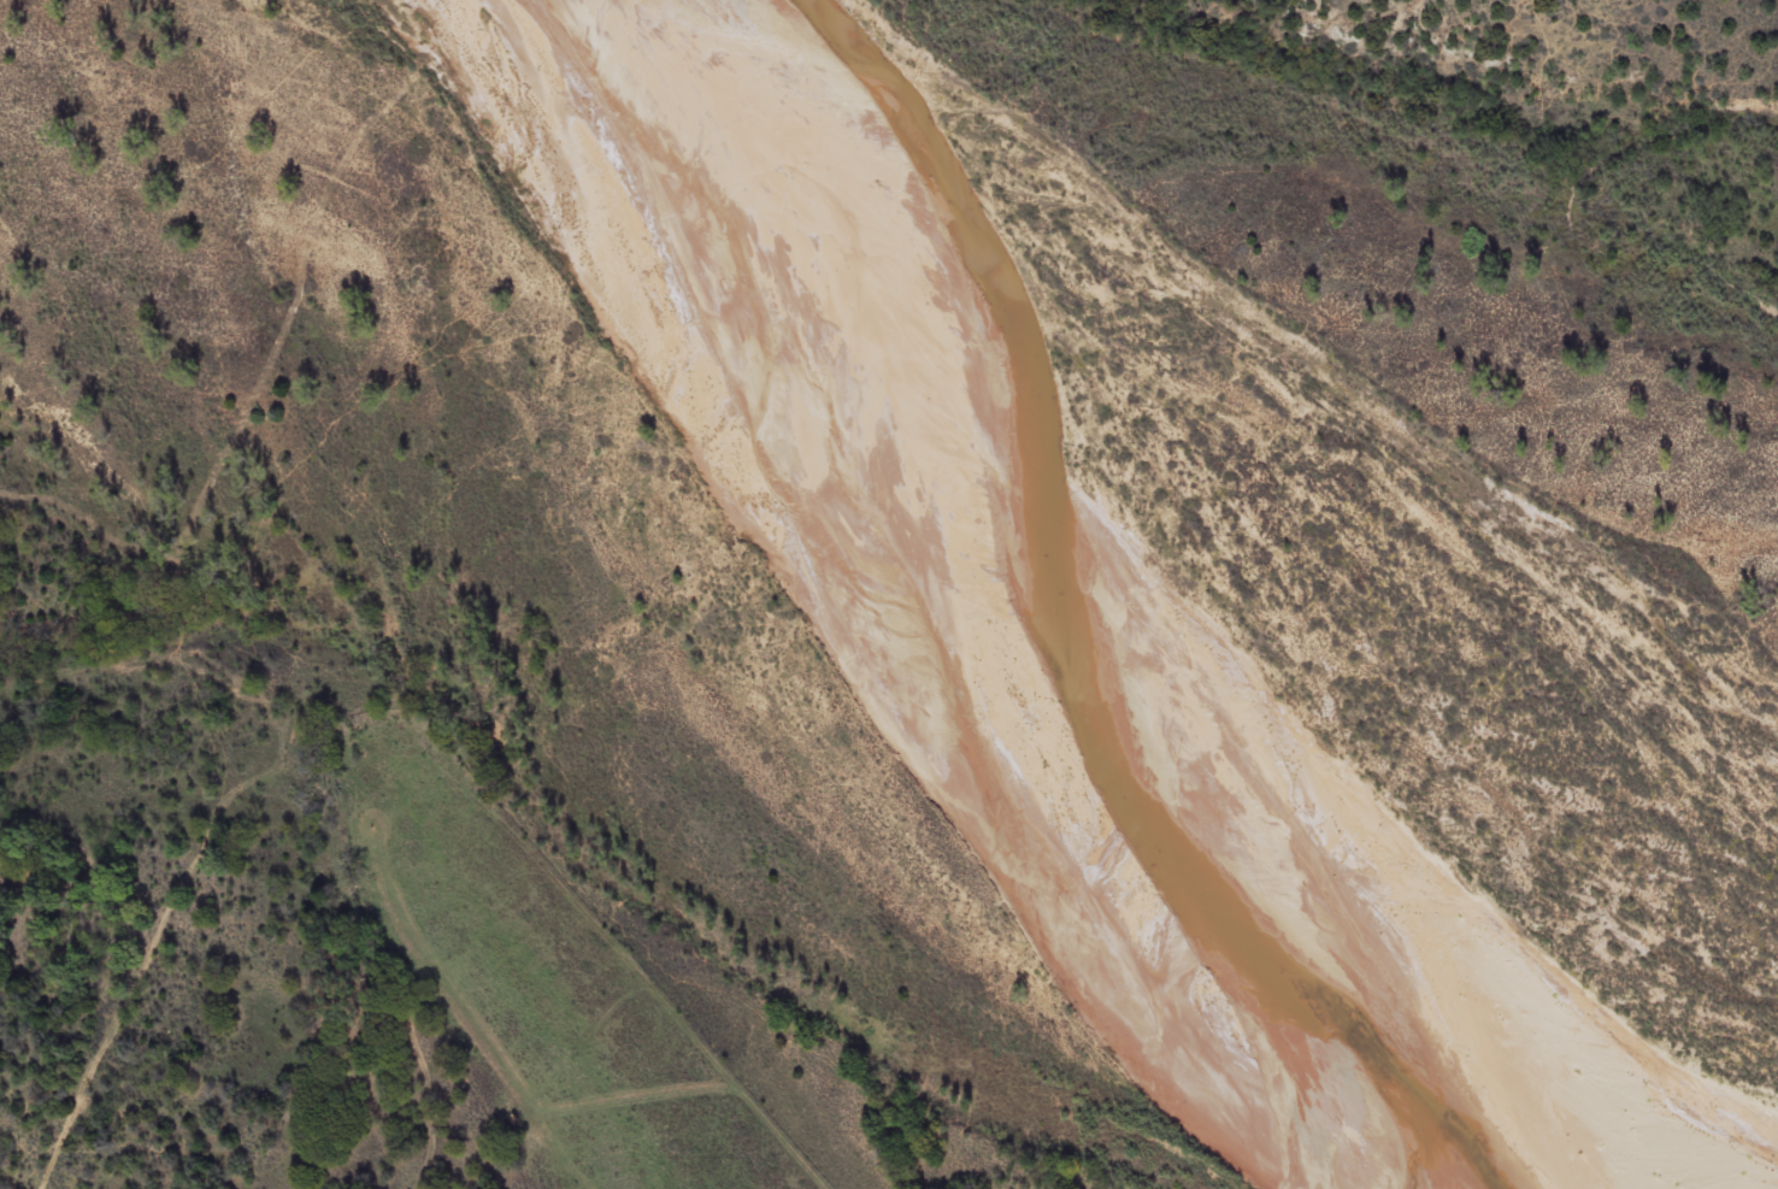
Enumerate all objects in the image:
river: (1029, 663)
road: (86, 1037)

